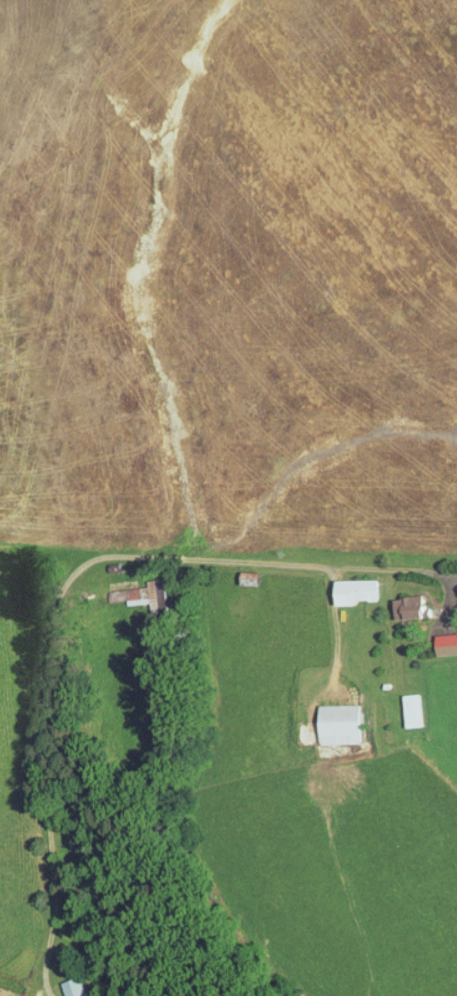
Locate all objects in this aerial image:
building: (341, 585)
building: (130, 589)
road: (66, 591)
building: (452, 596)
building: (396, 601)
building: (439, 638)
building: (399, 704)
building: (326, 718)
building: (61, 984)

